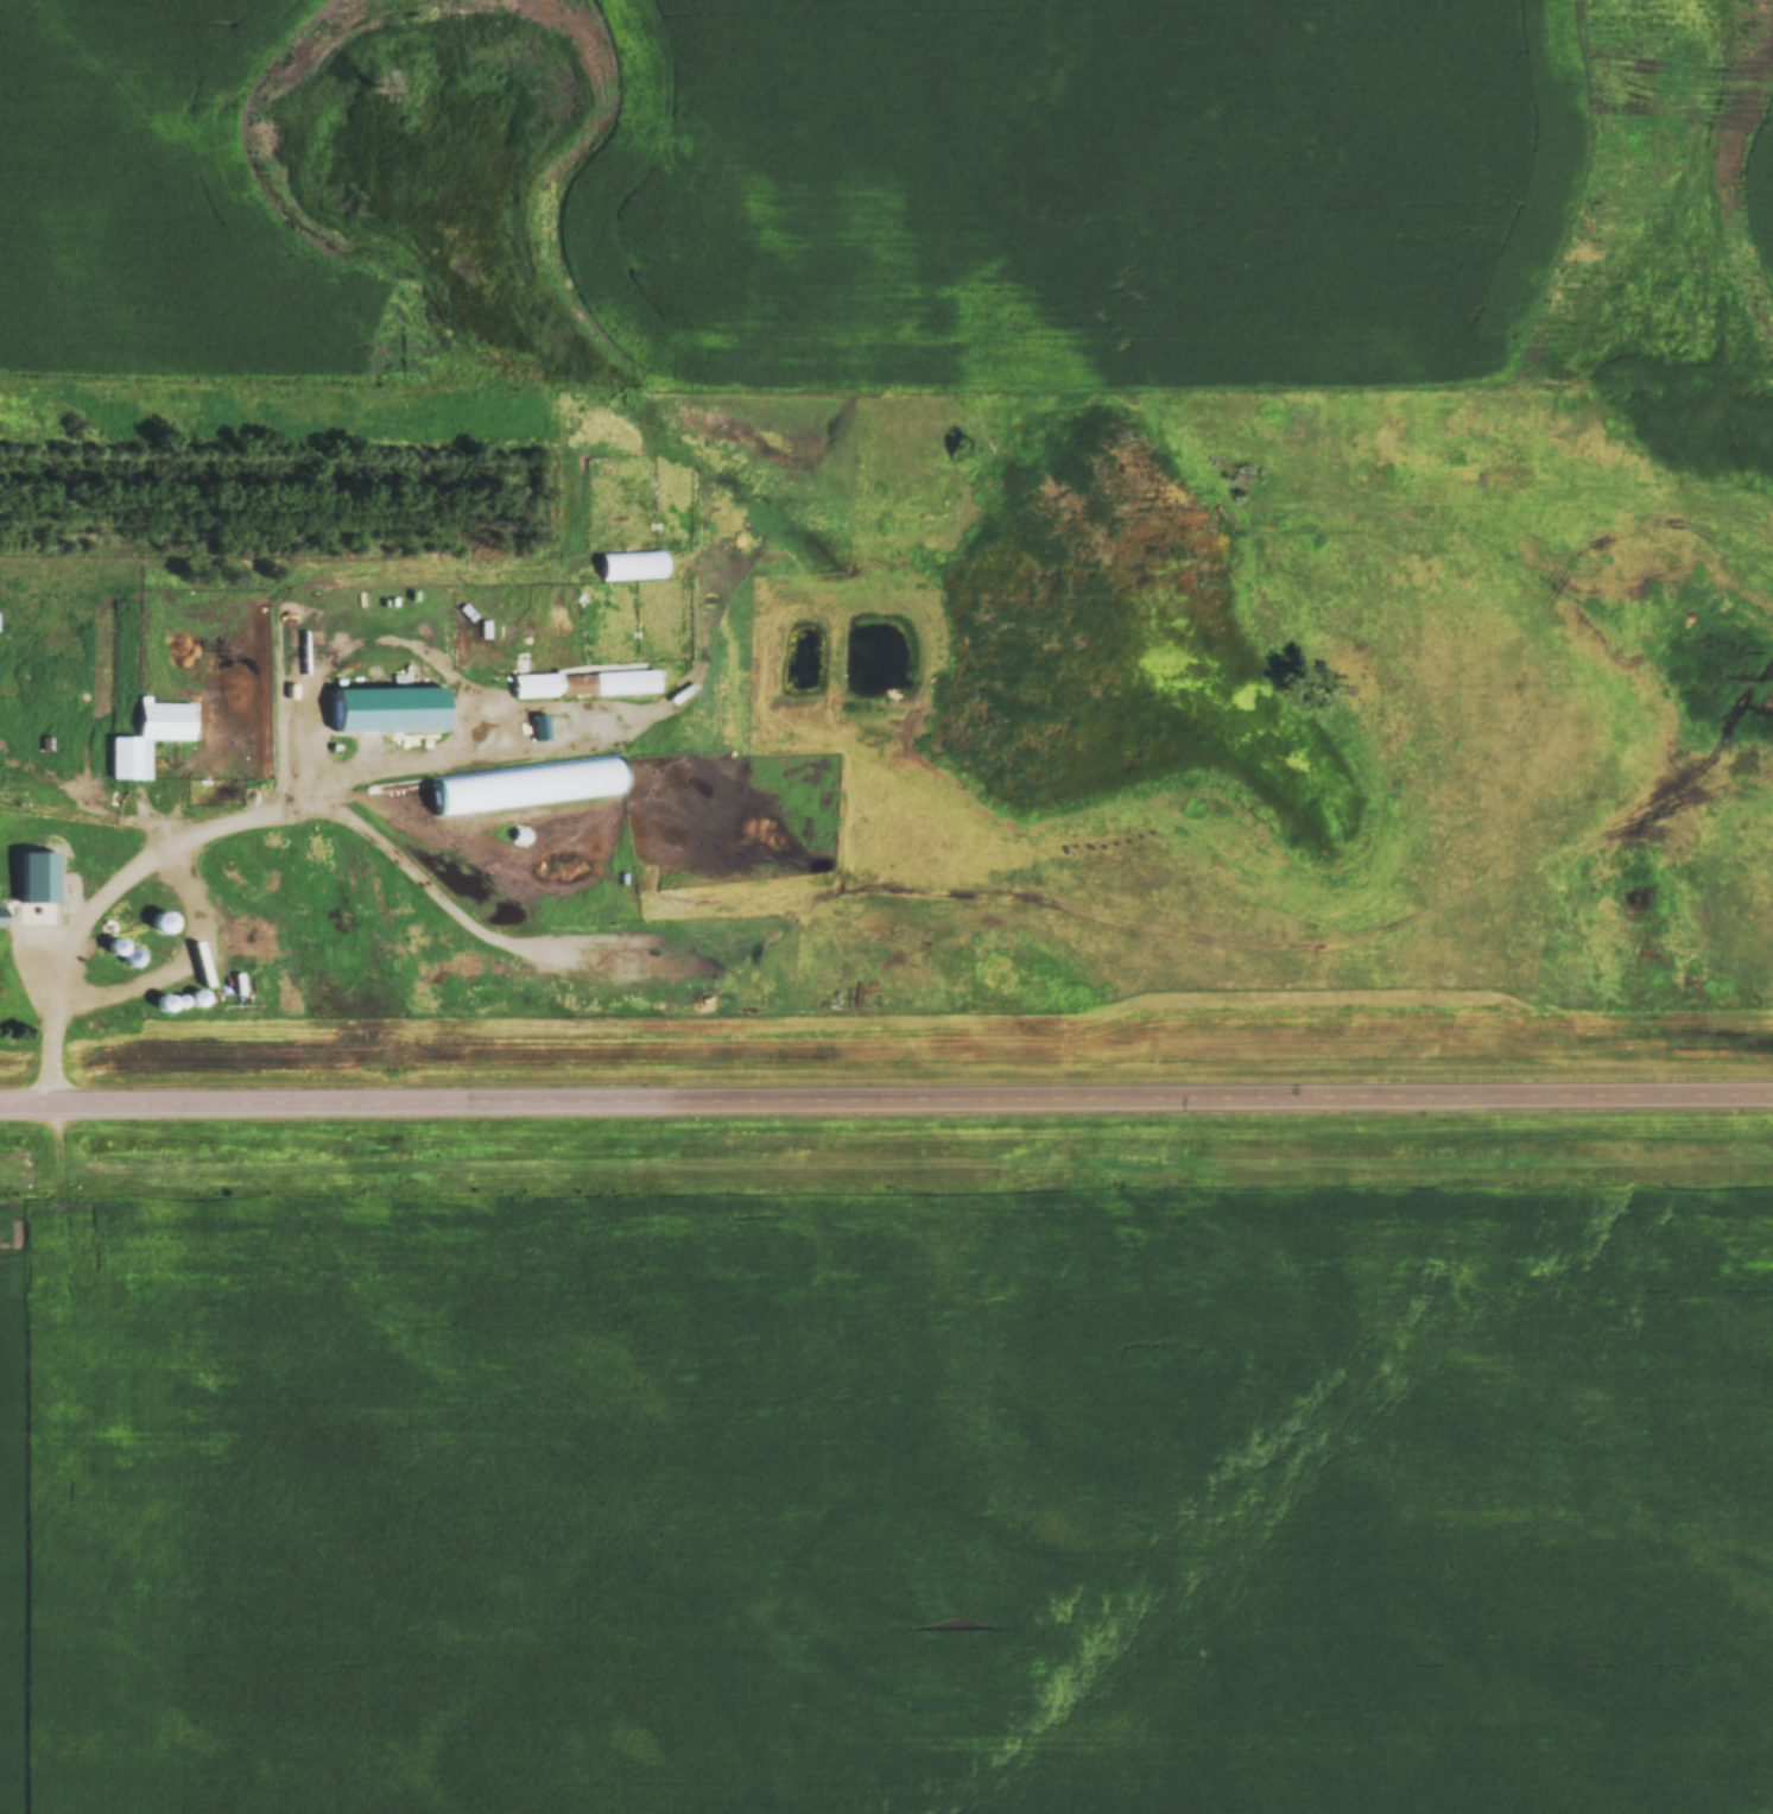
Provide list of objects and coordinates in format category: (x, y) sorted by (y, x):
building: (632, 564)
building: (480, 628)
building: (584, 683)
building: (385, 709)
building: (148, 738)
building: (37, 876)
building: (0, 912)
building: (162, 922)
road: (886, 1080)

